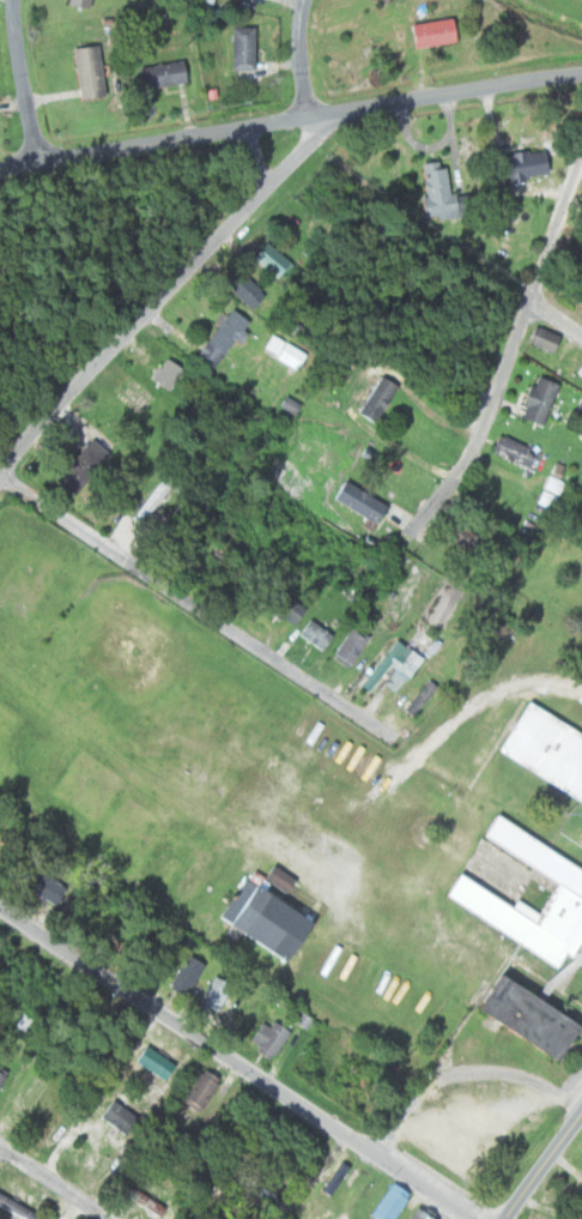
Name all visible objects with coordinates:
building: (75, 4)
building: (428, 34)
building: (238, 48)
road: (298, 59)
building: (84, 72)
building: (157, 76)
road: (22, 79)
road: (291, 120)
road: (254, 161)
building: (520, 165)
building: (430, 191)
building: (503, 207)
building: (267, 260)
road: (169, 291)
building: (243, 292)
road: (556, 310)
building: (218, 339)
building: (540, 340)
building: (283, 352)
road: (504, 366)
building: (163, 374)
building: (374, 399)
building: (533, 400)
building: (509, 451)
building: (78, 464)
building: (152, 499)
building: (357, 502)
building: (455, 535)
building: (228, 538)
building: (283, 609)
road: (218, 610)
building: (313, 634)
building: (348, 646)
building: (388, 666)
building: (417, 699)
building: (544, 752)
building: (40, 887)
building: (262, 924)
building: (527, 940)
building: (182, 977)
building: (211, 996)
building: (265, 1039)
road: (238, 1061)
building: (148, 1063)
building: (198, 1091)
building: (114, 1118)
road: (1, 1152)
road: (545, 1165)
road: (54, 1183)
building: (265, 1189)
building: (386, 1203)
building: (141, 1205)
building: (13, 1209)
building: (413, 1215)

